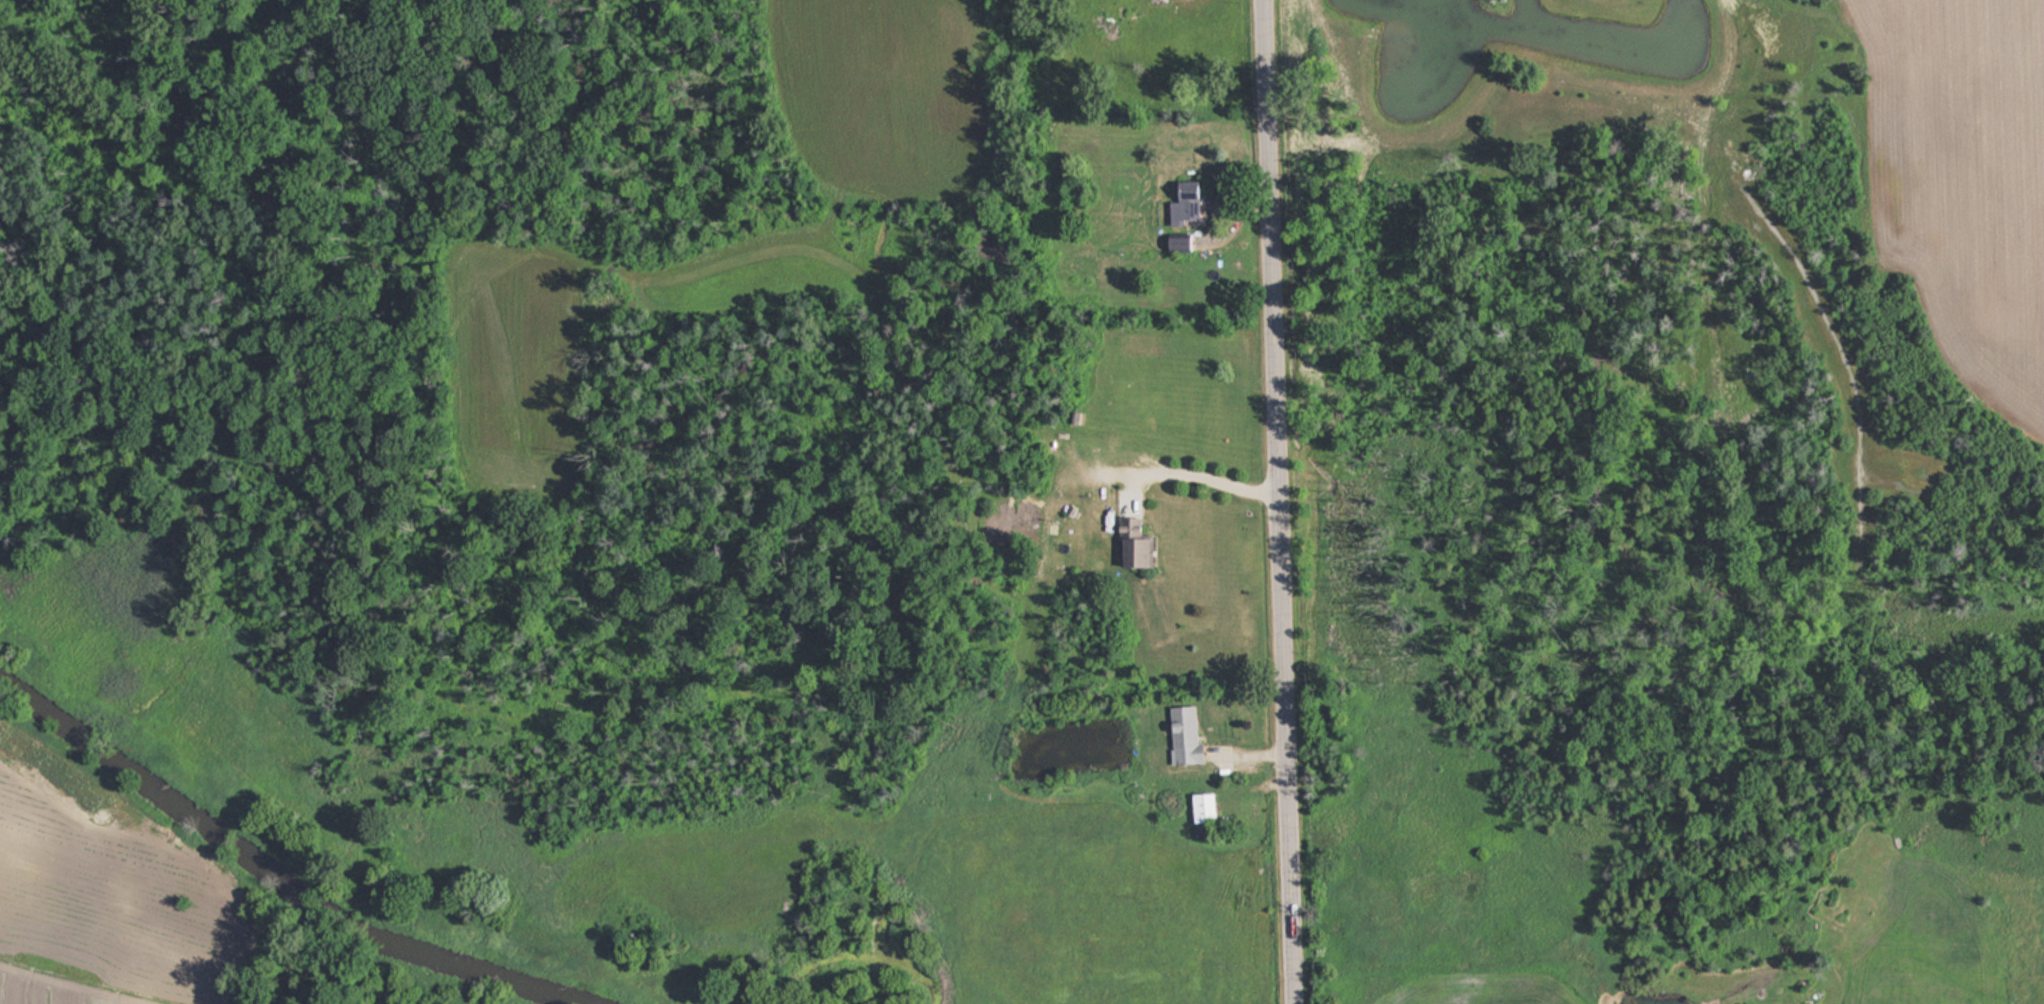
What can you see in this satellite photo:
building: (1158, 1)
building: (1184, 204)
building: (1175, 243)
road: (1277, 502)
building: (1131, 545)
building: (1181, 737)
building: (1199, 808)
river: (273, 873)

